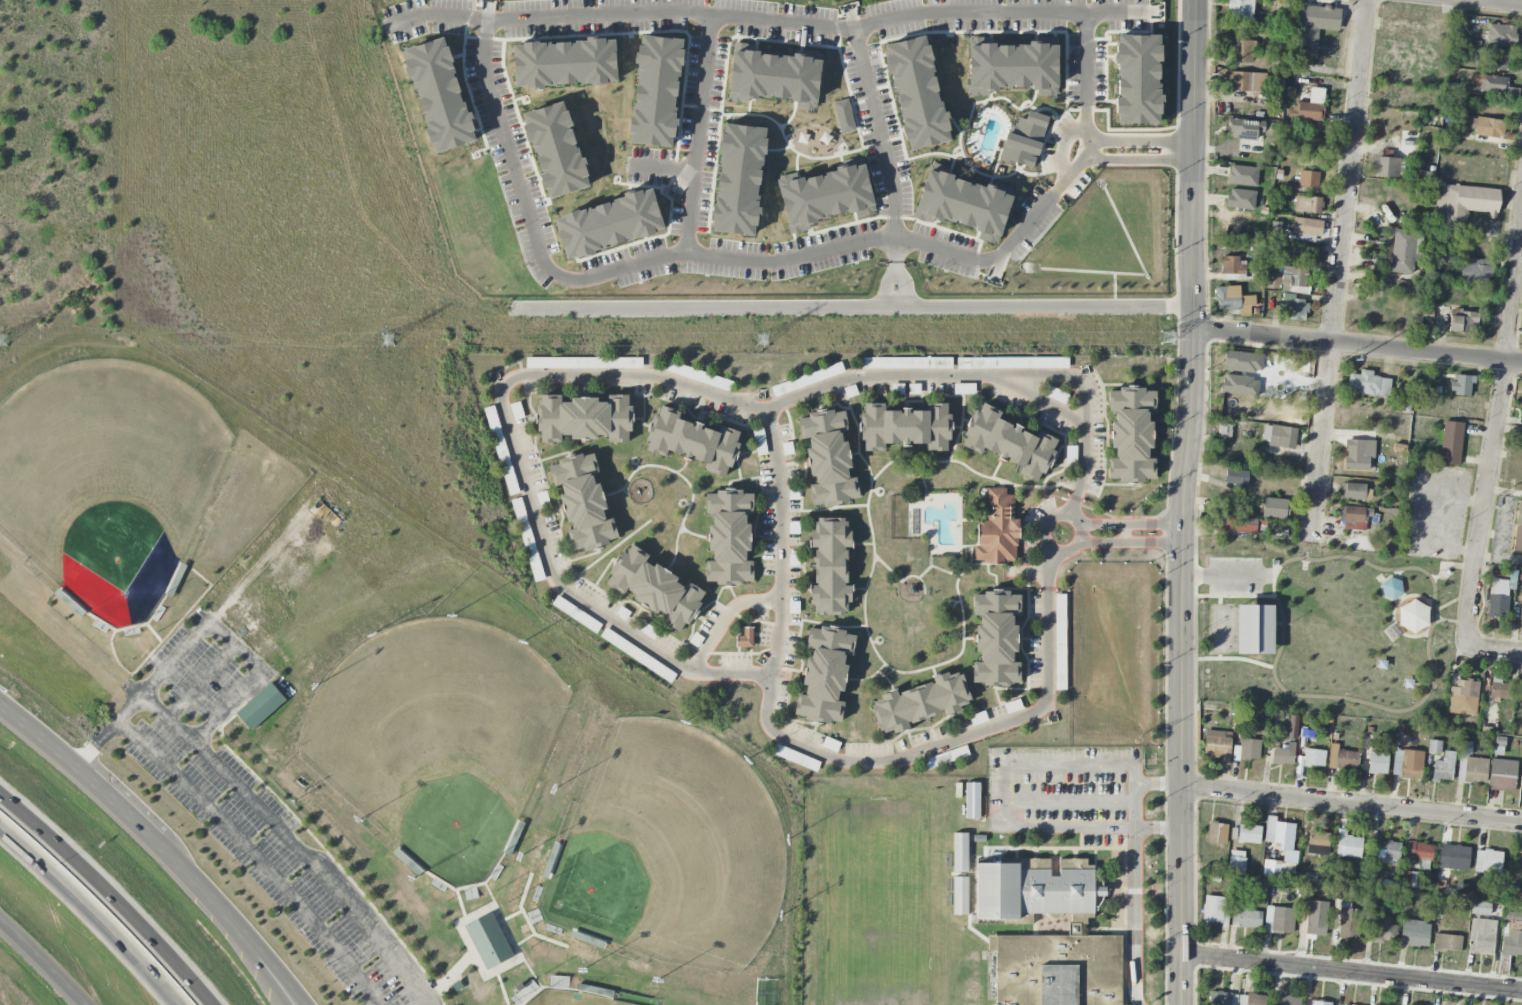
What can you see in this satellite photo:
road: (1498, 2)
building: (1241, 10)
road: (803, 25)
building: (1311, 27)
building: (1501, 35)
building: (979, 40)
building: (1241, 51)
building: (1496, 60)
building: (565, 63)
building: (1012, 68)
power tower: (1212, 74)
building: (773, 77)
building: (1138, 79)
building: (1247, 82)
building: (1490, 83)
building: (656, 91)
building: (917, 94)
building: (439, 95)
building: (1306, 111)
building: (843, 116)
building: (1489, 127)
building: (1245, 132)
road: (878, 133)
road: (697, 134)
building: (1024, 140)
road: (1145, 140)
building: (556, 150)
building: (1386, 167)
road: (662, 169)
building: (1242, 176)
building: (1308, 179)
building: (739, 180)
building: (824, 196)
building: (1241, 199)
building: (1469, 202)
building: (964, 205)
building: (1314, 205)
building: (609, 224)
building: (1307, 226)
building: (1405, 251)
road: (720, 257)
road: (894, 257)
building: (1233, 266)
road: (1337, 270)
building: (1476, 270)
building: (1287, 279)
road: (883, 288)
road: (905, 289)
building: (1233, 300)
road: (849, 307)
building: (1296, 310)
building: (1462, 321)
power tower: (1165, 338)
power tower: (0, 340)
power tower: (763, 340)
power tower: (386, 341)
road: (1356, 346)
power tower: (1356, 360)
building: (975, 362)
building: (591, 363)
building: (906, 363)
building: (1026, 363)
road: (929, 374)
building: (1369, 384)
building: (1461, 385)
building: (1405, 403)
road: (1084, 404)
building: (584, 419)
building: (905, 427)
road: (1495, 428)
building: (1131, 435)
building: (1279, 436)
building: (497, 438)
building: (1520, 439)
building: (692, 441)
building: (1009, 443)
building: (1451, 443)
building: (1358, 454)
building: (828, 458)
road: (520, 469)
building: (1236, 477)
park: (107, 479)
building: (1356, 492)
building: (583, 502)
road: (1180, 502)
building: (1274, 508)
parking lot: (1433, 512)
building: (1355, 518)
road: (1128, 524)
building: (1238, 524)
building: (997, 530)
road: (1044, 533)
road: (1123, 533)
building: (729, 537)
road: (1129, 541)
road: (1320, 559)
building: (830, 566)
parking lot: (1235, 576)
building: (655, 588)
building: (1391, 588)
building: (1500, 597)
building: (1520, 610)
road: (1433, 611)
road: (1393, 612)
building: (1412, 616)
road: (724, 618)
road: (70, 624)
park: (1221, 628)
park: (1326, 629)
building: (1254, 630)
building: (745, 638)
building: (996, 639)
building: (1060, 641)
road: (1495, 651)
road: (1235, 659)
road: (258, 667)
building: (824, 675)
road: (200, 680)
building: (1499, 689)
building: (1463, 698)
road: (1346, 699)
building: (920, 703)
building: (260, 706)
road: (128, 708)
park: (432, 725)
road: (94, 743)
building: (1217, 745)
building: (1434, 747)
building: (1247, 750)
road: (828, 753)
building: (1284, 754)
building: (793, 757)
building: (1314, 758)
building: (1342, 758)
building: (939, 760)
building: (1377, 763)
building: (1407, 764)
building: (1472, 766)
building: (1443, 767)
building: (1502, 776)
road: (1159, 783)
road: (998, 790)
building: (972, 801)
road: (1067, 803)
road: (1352, 807)
building: (1217, 833)
building: (1279, 833)
building: (1249, 834)
building: (979, 838)
building: (1318, 843)
park: (679, 844)
building: (1348, 845)
road: (160, 847)
building: (1421, 851)
building: (960, 852)
building: (1388, 852)
road: (255, 854)
building: (1452, 856)
building: (1488, 861)
building: (1236, 862)
building: (1519, 863)
road: (315, 867)
building: (1278, 869)
building: (1410, 879)
road: (194, 889)
building: (1033, 889)
building: (1515, 894)
road: (108, 896)
building: (960, 896)
park: (889, 902)
building: (1480, 908)
building: (1214, 910)
road: (92, 913)
road: (1135, 916)
building: (1512, 916)
building: (1317, 918)
building: (1249, 919)
building: (1349, 923)
building: (1278, 924)
building: (1382, 930)
building: (1415, 933)
building: (1481, 936)
building: (487, 942)
building: (1447, 943)
building: (1512, 943)
road: (40, 964)
building: (1056, 969)
road: (1352, 973)
building: (524, 991)
building: (1222, 998)
building: (1251, 999)
building: (1288, 1000)
building: (1320, 1003)

